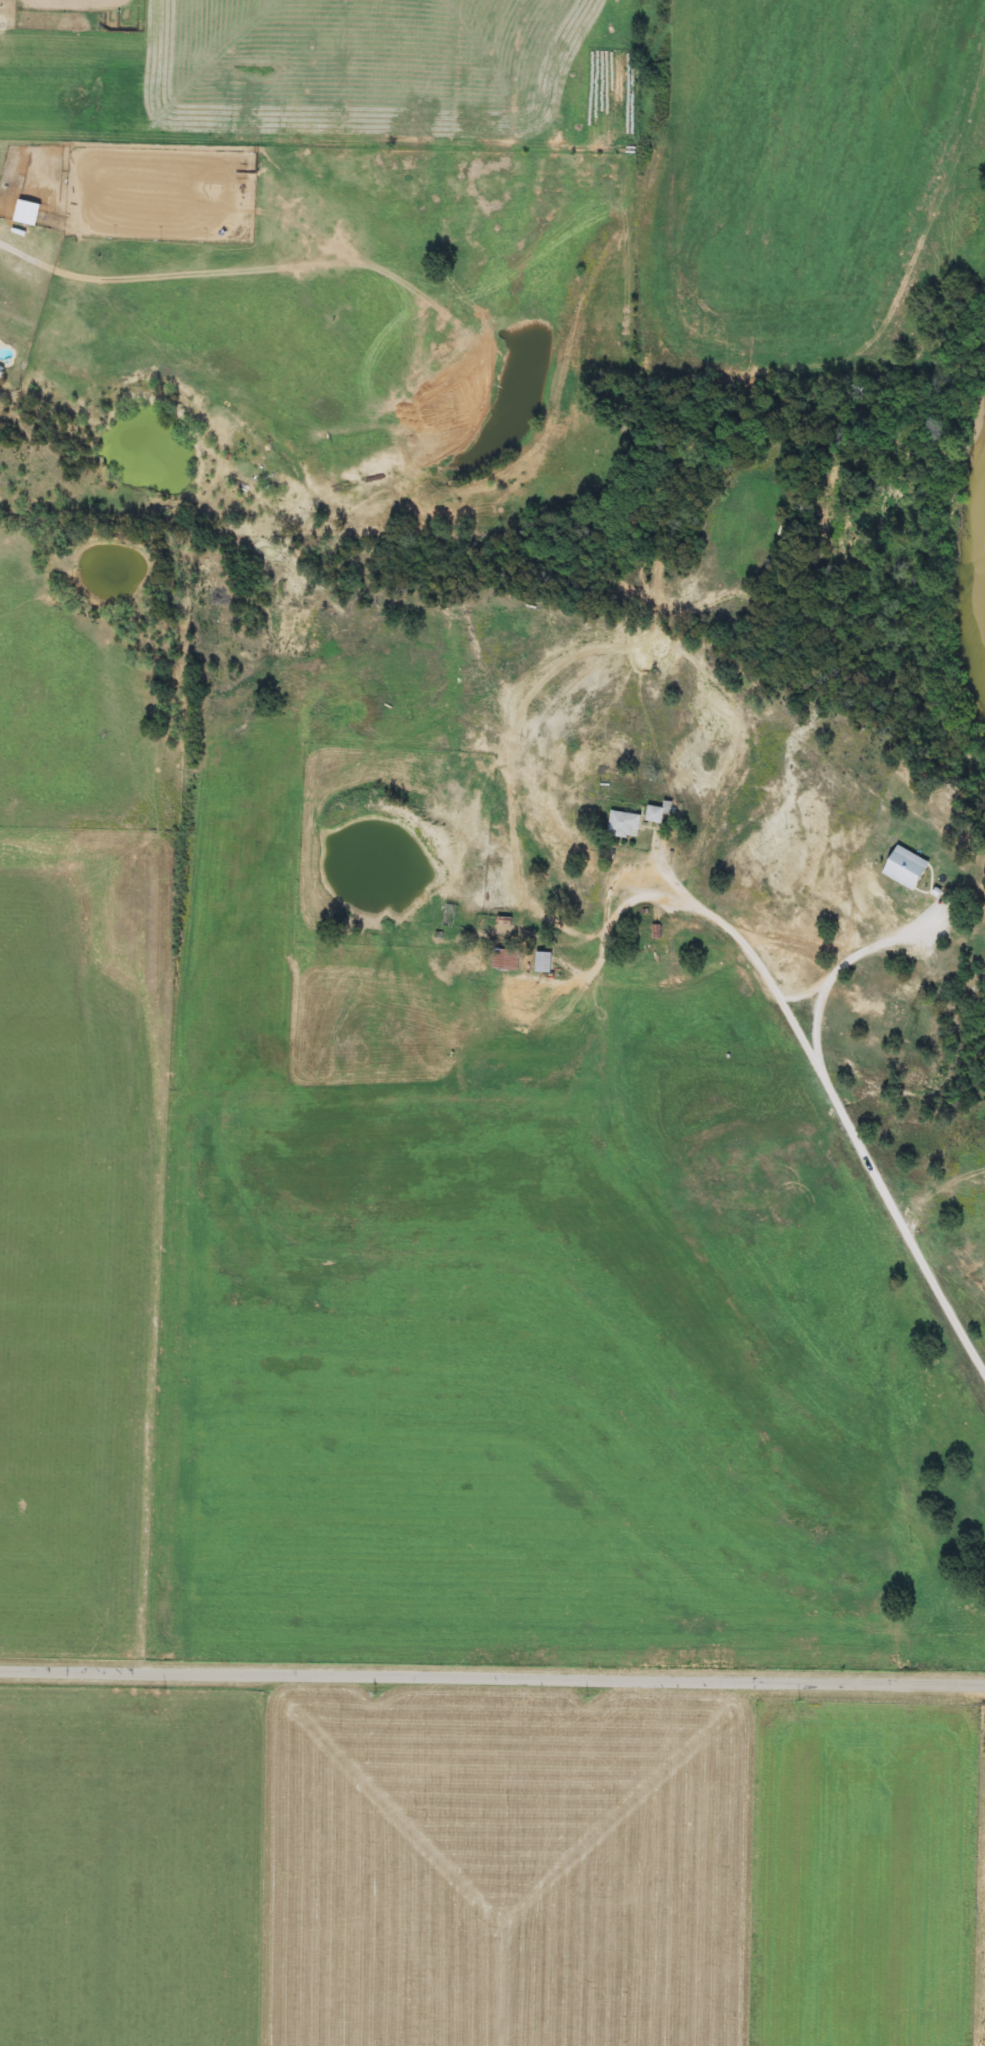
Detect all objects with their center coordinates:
building: (30, 213)
building: (658, 814)
building: (626, 825)
building: (909, 869)
building: (451, 916)
road: (838, 958)
building: (506, 959)
building: (546, 962)
road: (835, 1102)
road: (492, 1685)

